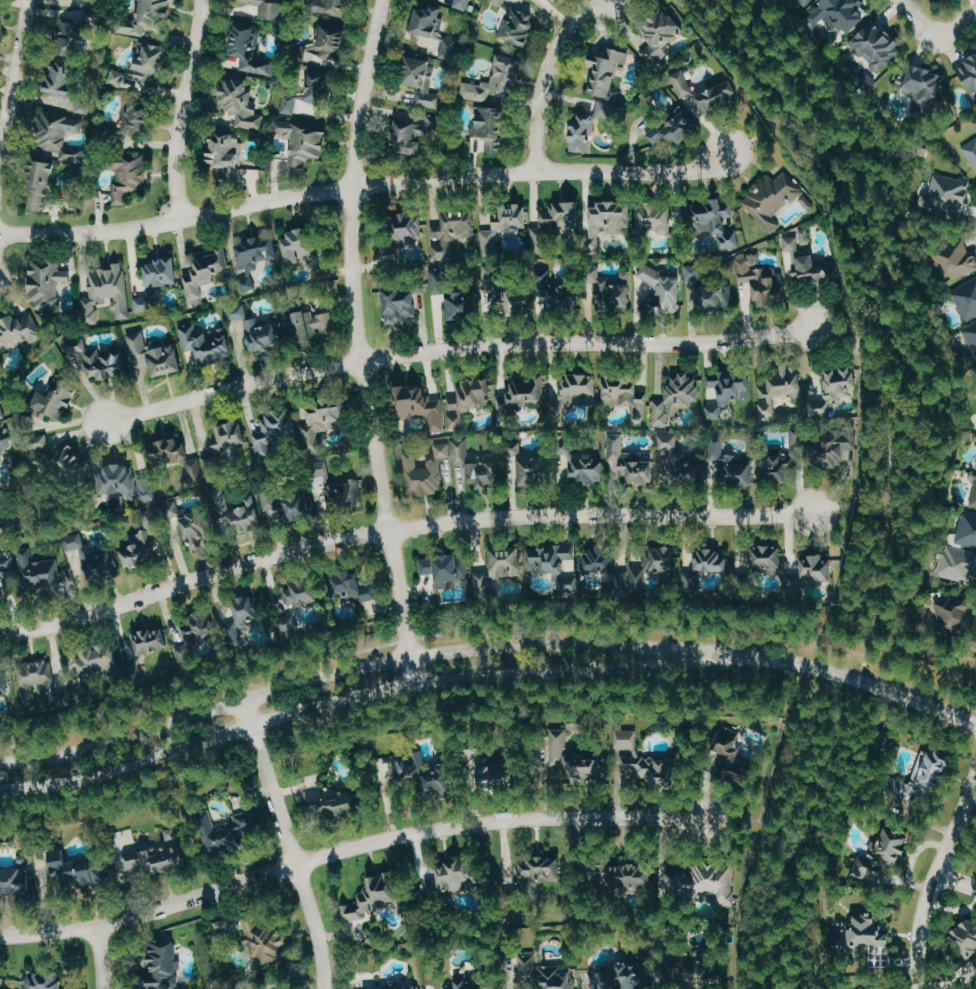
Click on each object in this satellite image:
building: (560, 0)
building: (806, 2)
building: (461, 3)
building: (332, 6)
building: (267, 9)
building: (840, 13)
building: (149, 15)
road: (916, 17)
building: (429, 22)
road: (955, 23)
building: (518, 25)
building: (83, 30)
building: (661, 37)
building: (327, 43)
building: (877, 44)
building: (251, 48)
building: (142, 69)
building: (609, 69)
building: (970, 73)
road: (545, 76)
road: (13, 79)
building: (422, 80)
building: (73, 81)
building: (495, 81)
building: (683, 83)
building: (924, 85)
building: (719, 96)
building: (241, 102)
road: (181, 108)
building: (137, 114)
building: (492, 127)
building: (673, 130)
road: (757, 132)
building: (583, 133)
building: (409, 135)
building: (61, 137)
building: (303, 142)
building: (228, 152)
building: (972, 154)
building: (128, 175)
building: (42, 184)
road: (362, 186)
building: (948, 194)
building: (772, 196)
building: (560, 214)
building: (661, 219)
building: (716, 220)
building: (504, 225)
building: (408, 228)
building: (451, 232)
road: (928, 235)
building: (805, 236)
building: (541, 242)
building: (792, 243)
building: (302, 248)
building: (256, 254)
building: (956, 261)
building: (813, 268)
building: (694, 272)
building: (163, 273)
building: (204, 273)
building: (763, 279)
building: (47, 281)
building: (439, 281)
building: (502, 286)
building: (663, 289)
building: (616, 292)
building: (107, 293)
building: (557, 293)
building: (718, 296)
building: (966, 297)
building: (143, 303)
building: (463, 304)
building: (400, 306)
building: (308, 324)
building: (19, 330)
road: (852, 333)
building: (972, 334)
road: (358, 341)
building: (206, 346)
road: (459, 348)
building: (157, 353)
building: (97, 359)
building: (727, 390)
building: (780, 390)
building: (837, 391)
building: (575, 394)
building: (626, 395)
building: (520, 396)
building: (676, 398)
building: (57, 400)
building: (444, 403)
building: (3, 408)
building: (29, 420)
building: (323, 425)
building: (275, 433)
building: (229, 436)
building: (6, 438)
building: (668, 441)
building: (834, 447)
building: (168, 451)
road: (888, 452)
building: (630, 462)
building: (73, 463)
building: (729, 463)
building: (433, 467)
building: (587, 467)
building: (780, 467)
building: (686, 468)
building: (533, 469)
building: (211, 471)
building: (196, 472)
building: (483, 473)
building: (129, 482)
building: (339, 487)
building: (974, 498)
building: (299, 506)
building: (169, 510)
building: (237, 512)
road: (850, 512)
building: (196, 529)
road: (400, 529)
building: (967, 529)
building: (143, 547)
building: (95, 558)
building: (770, 558)
building: (712, 560)
building: (509, 561)
building: (556, 562)
building: (957, 563)
building: (663, 564)
building: (6, 567)
building: (447, 567)
building: (611, 571)
building: (812, 571)
building: (39, 572)
building: (486, 583)
building: (354, 588)
building: (303, 593)
building: (247, 610)
building: (954, 613)
building: (203, 624)
road: (488, 625)
building: (148, 652)
building: (99, 662)
road: (357, 668)
building: (5, 679)
road: (853, 679)
building: (43, 684)
road: (357, 695)
building: (738, 756)
building: (576, 759)
building: (640, 762)
building: (410, 766)
building: (930, 775)
building: (497, 778)
building: (440, 781)
building: (340, 802)
building: (224, 833)
road: (289, 844)
building: (891, 847)
road: (348, 850)
building: (157, 859)
building: (80, 870)
building: (541, 870)
building: (870, 873)
building: (459, 876)
road: (934, 876)
building: (631, 878)
road: (956, 878)
building: (16, 879)
building: (706, 882)
building: (871, 931)
building: (968, 935)
building: (266, 942)
road: (103, 956)
building: (164, 967)
road: (780, 970)
building: (704, 972)
building: (544, 973)
building: (624, 976)
building: (44, 981)
building: (1, 983)
building: (472, 983)
building: (409, 988)

